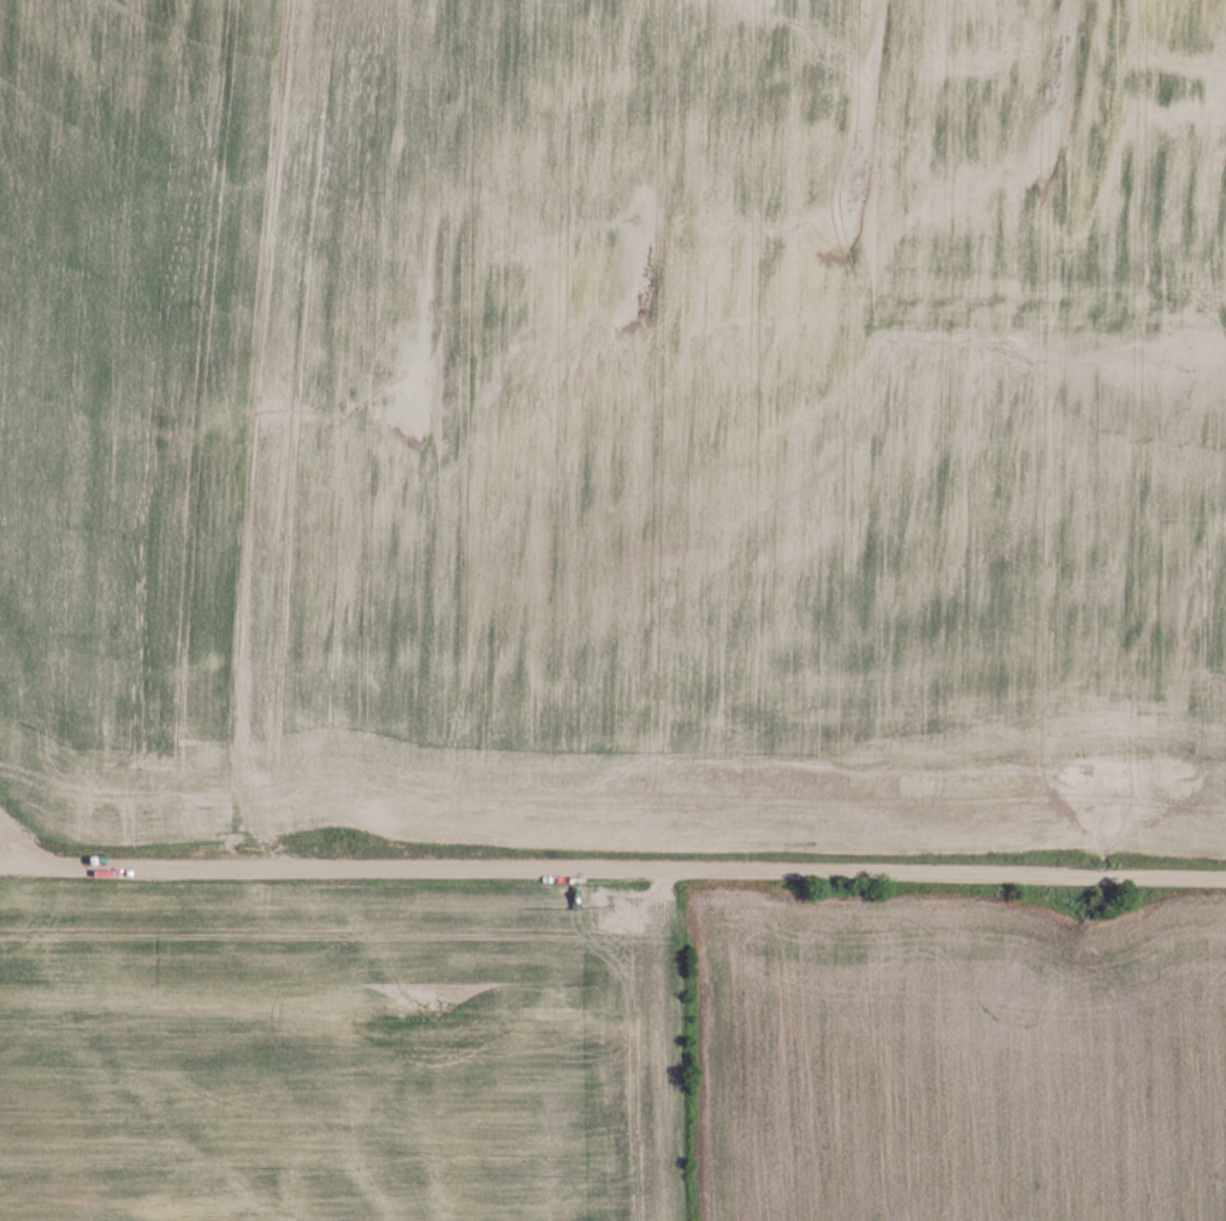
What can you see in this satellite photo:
road: (11, 850)
road: (612, 876)

